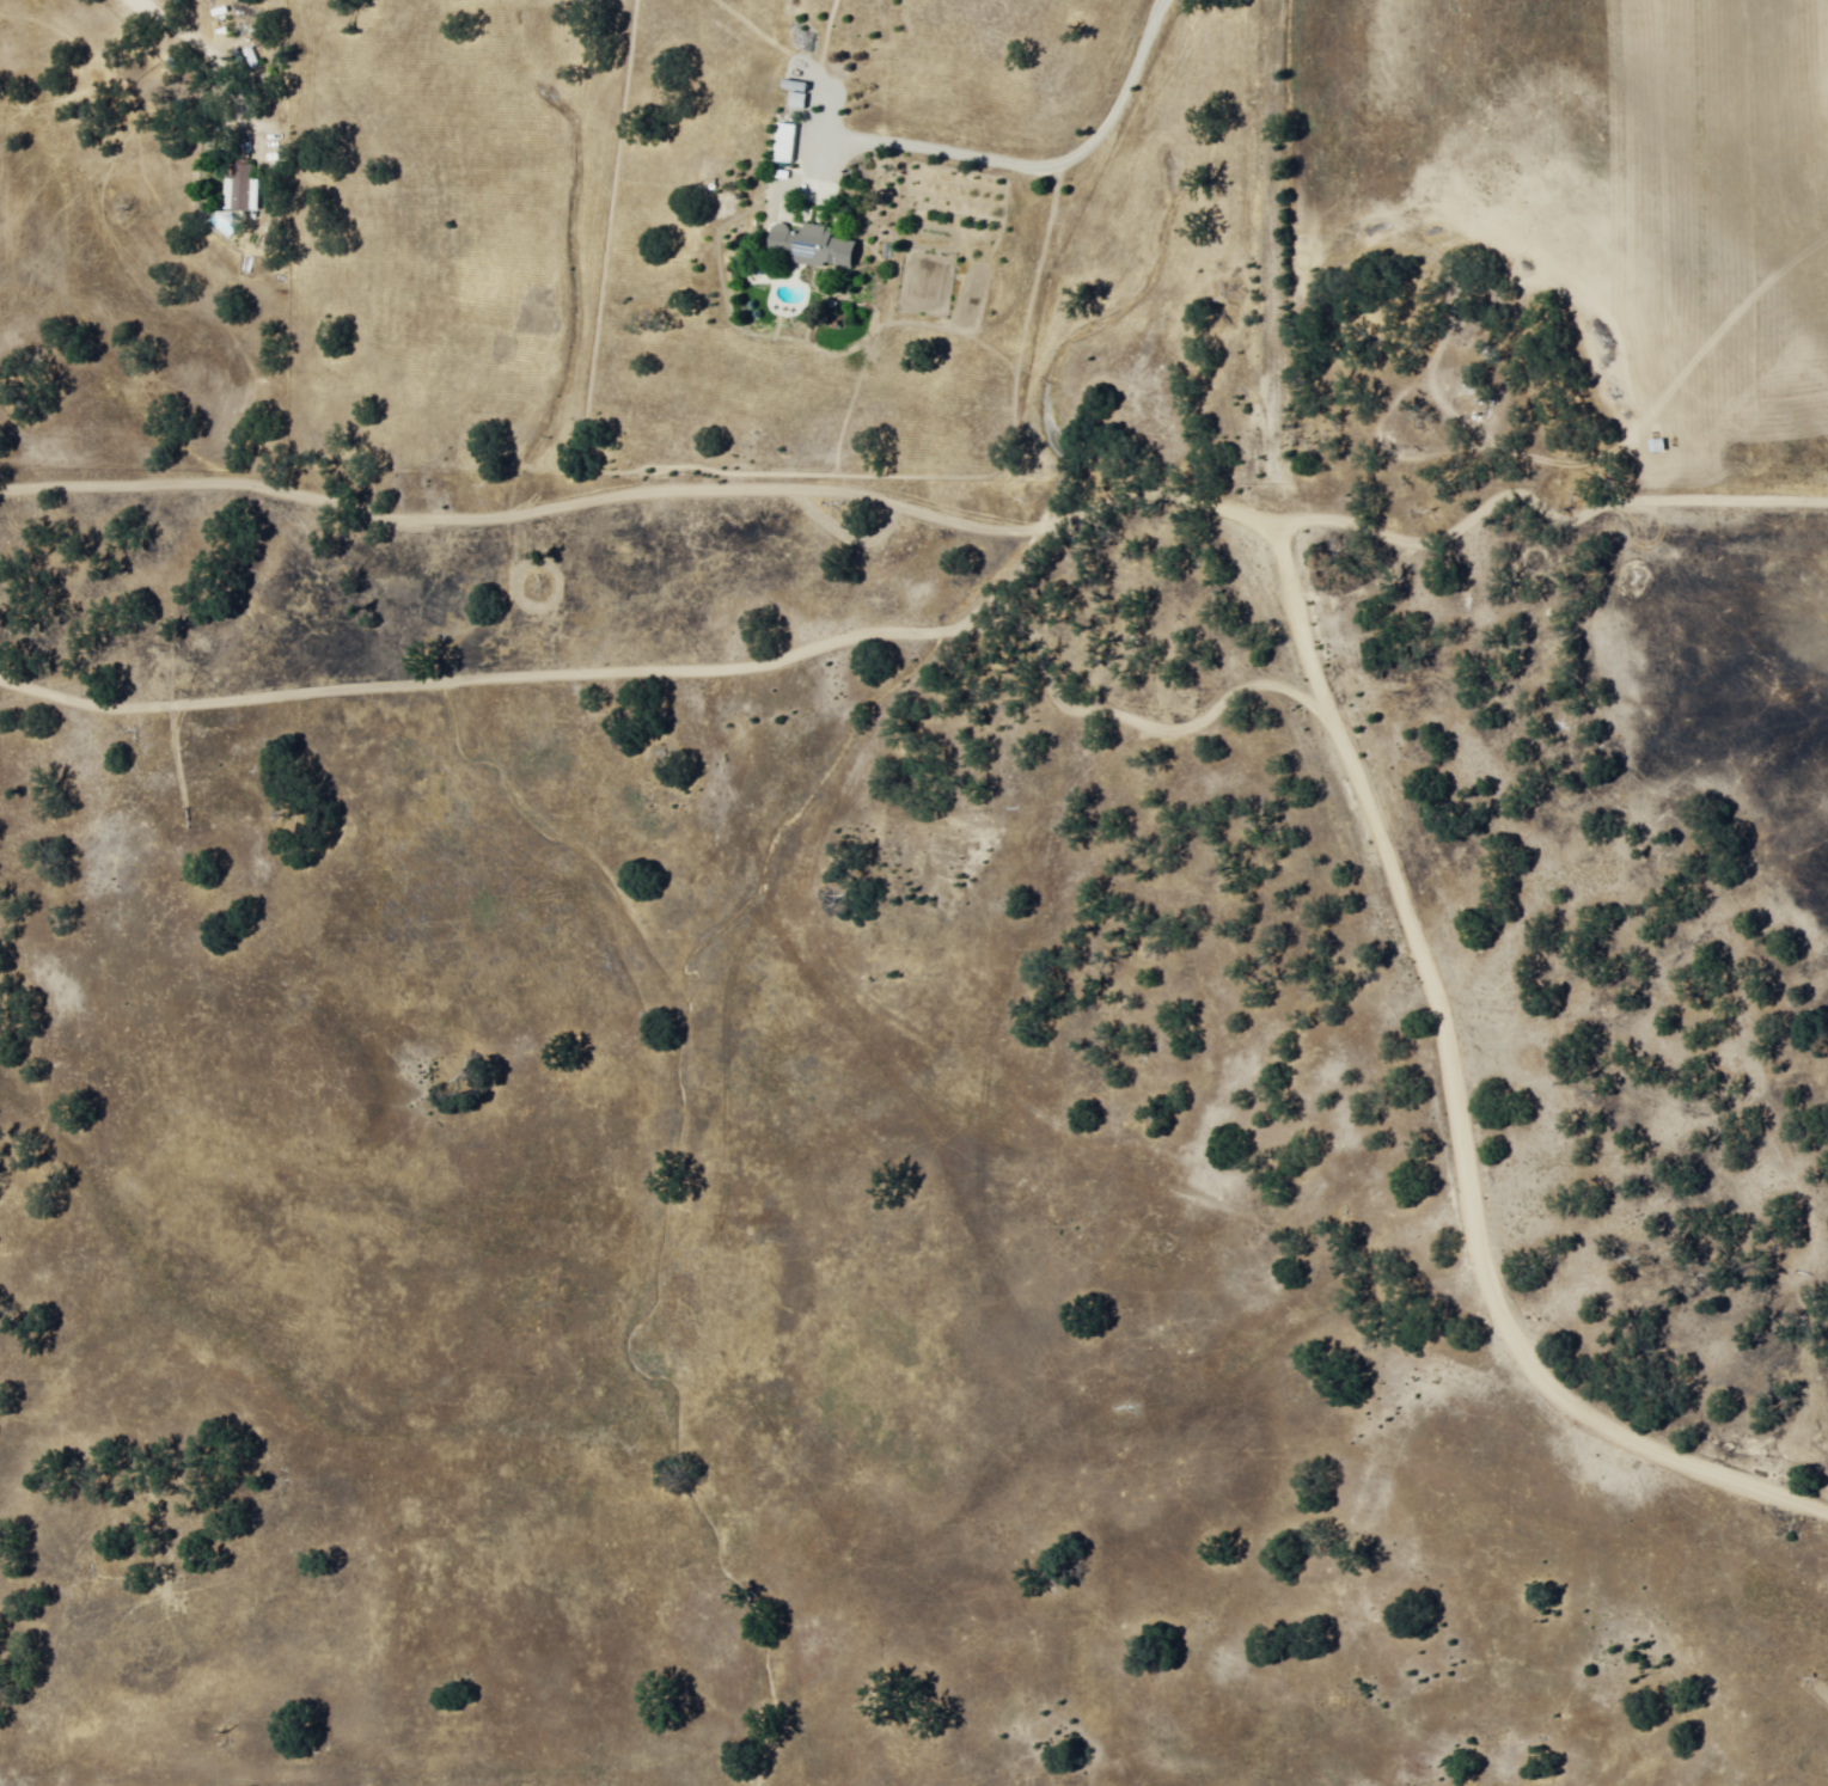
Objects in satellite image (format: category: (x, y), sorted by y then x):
road: (255, 141)
building: (783, 145)
building: (243, 189)
road: (271, 225)
building: (811, 247)
building: (1652, 447)
road: (644, 570)
road: (1381, 856)
road: (1187, 1054)

